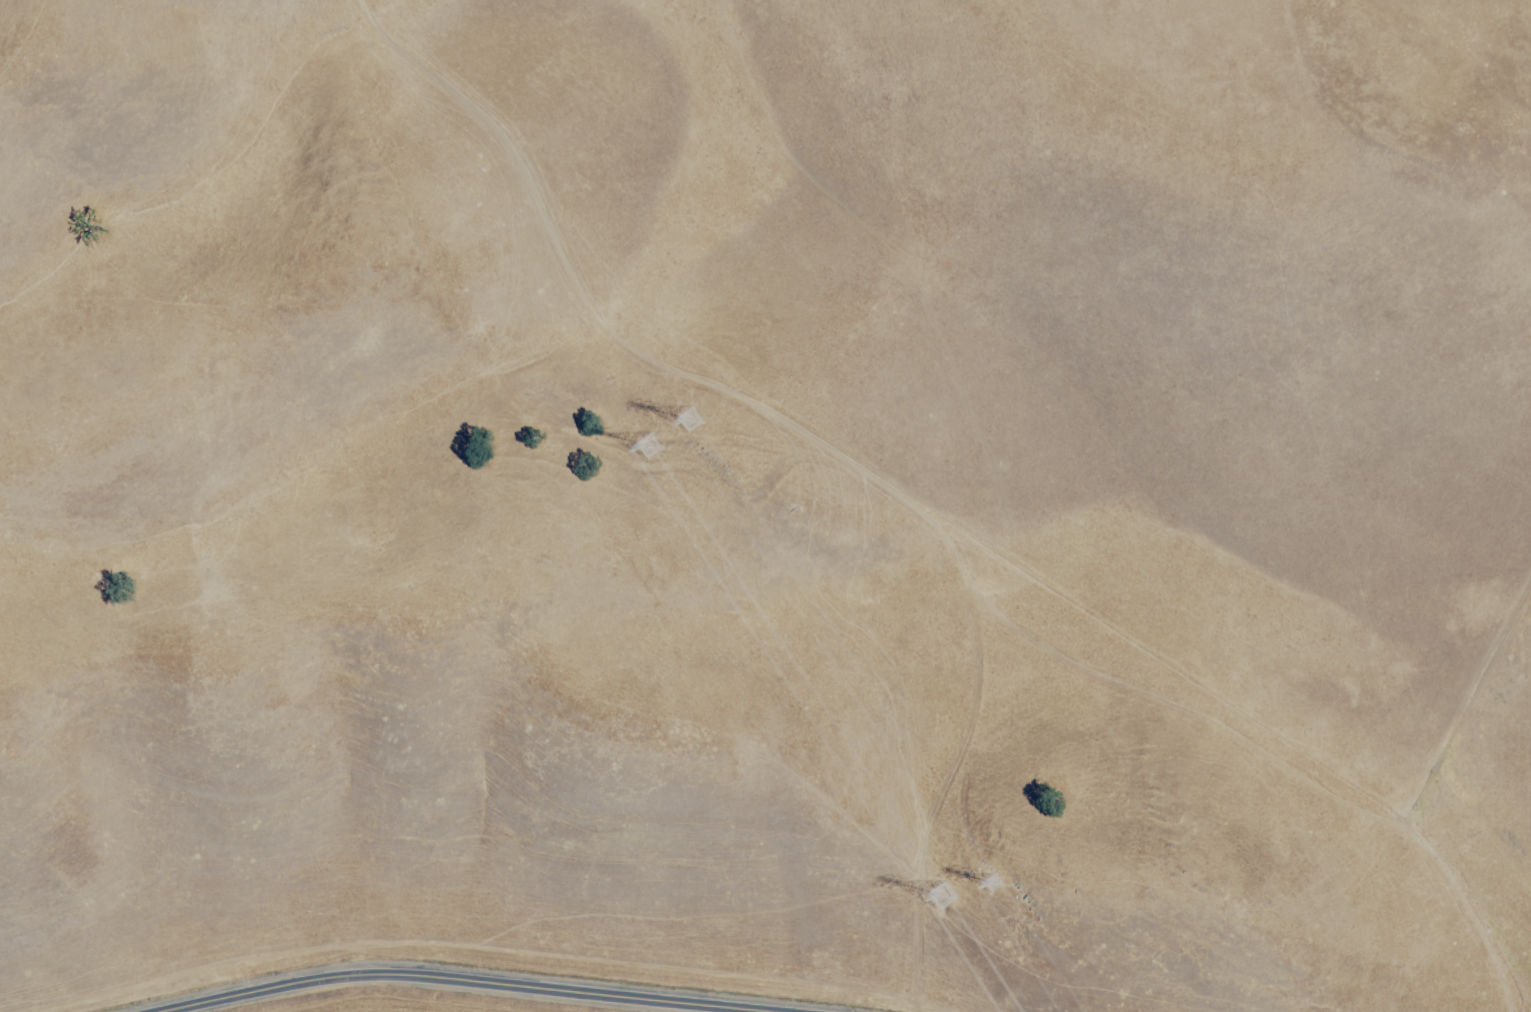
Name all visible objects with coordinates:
power tower: (691, 407)
power tower: (649, 443)
park: (765, 506)
road: (933, 506)
road: (1450, 696)
power tower: (995, 880)
power tower: (947, 895)
road: (476, 985)

